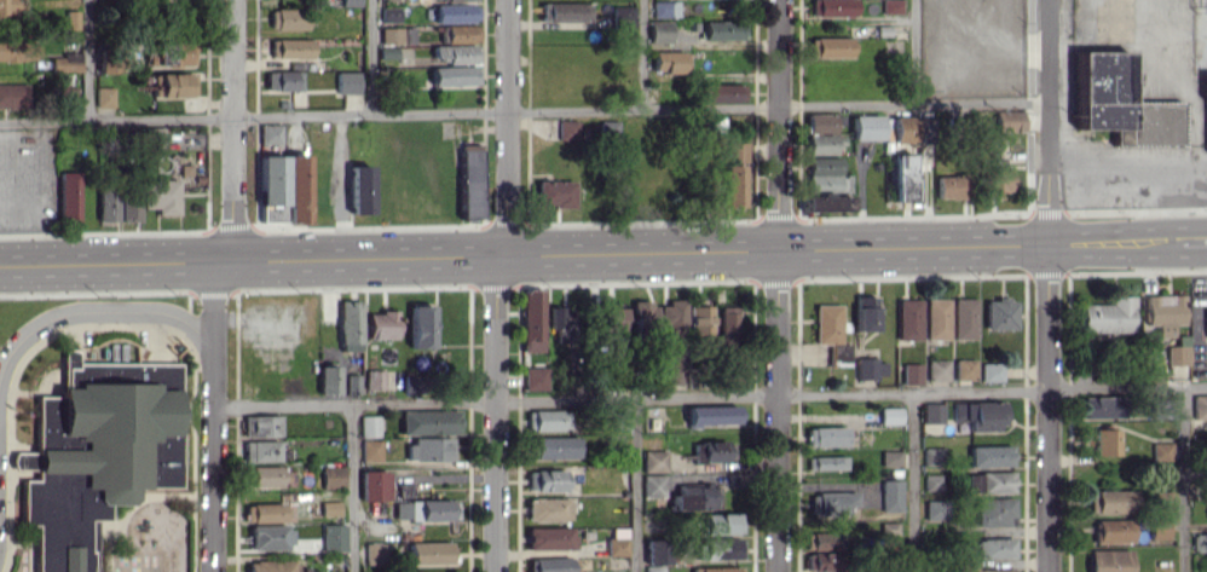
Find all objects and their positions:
building: (162, 0)
building: (392, 0)
building: (461, 0)
building: (353, 2)
power substation: (1202, 5)
building: (12, 6)
building: (894, 6)
building: (834, 7)
building: (668, 8)
building: (566, 11)
building: (458, 12)
building: (392, 15)
building: (625, 16)
building: (290, 18)
building: (74, 19)
building: (724, 30)
building: (662, 31)
building: (461, 33)
building: (399, 35)
building: (832, 46)
building: (293, 47)
building: (19, 50)
building: (177, 52)
road: (922, 52)
building: (458, 53)
road: (645, 54)
road: (371, 58)
road: (88, 60)
building: (70, 62)
building: (116, 62)
building: (672, 62)
building: (456, 75)
building: (285, 80)
building: (351, 82)
building: (175, 83)
building: (724, 93)
building: (13, 94)
building: (69, 96)
building: (106, 98)
building: (1126, 104)
road: (1033, 106)
road: (237, 111)
road: (510, 111)
road: (526, 111)
building: (1011, 121)
building: (822, 122)
building: (870, 127)
building: (571, 128)
building: (272, 133)
building: (824, 144)
building: (740, 151)
building: (826, 171)
building: (1001, 175)
building: (905, 177)
building: (472, 180)
building: (735, 185)
building: (953, 186)
building: (275, 187)
building: (299, 189)
building: (362, 189)
building: (558, 192)
building: (70, 196)
building: (163, 196)
building: (109, 203)
building: (828, 203)
building: (132, 207)
road: (1138, 210)
road: (1051, 212)
road: (231, 242)
road: (1197, 243)
road: (706, 253)
road: (504, 255)
road: (112, 262)
road: (221, 281)
road: (781, 285)
road: (1052, 285)
road: (91, 307)
building: (1167, 312)
building: (867, 313)
building: (1003, 313)
building: (1111, 314)
building: (564, 316)
building: (645, 316)
building: (940, 318)
building: (966, 318)
building: (533, 319)
building: (674, 319)
building: (701, 319)
building: (911, 319)
building: (613, 320)
building: (383, 324)
building: (352, 325)
building: (422, 325)
building: (833, 333)
building: (734, 336)
building: (1183, 351)
building: (873, 368)
building: (941, 369)
building: (968, 369)
building: (677, 370)
building: (994, 371)
building: (914, 372)
building: (537, 377)
building: (331, 379)
building: (377, 380)
building: (415, 382)
building: (356, 383)
road: (711, 397)
building: (1104, 406)
building: (1168, 408)
building: (1201, 411)
building: (936, 412)
building: (983, 414)
building: (714, 415)
building: (894, 415)
building: (550, 420)
building: (432, 421)
building: (623, 422)
building: (264, 424)
building: (373, 426)
road: (498, 431)
road: (216, 435)
building: (828, 435)
building: (1109, 441)
building: (558, 446)
building: (99, 447)
building: (432, 447)
building: (264, 450)
building: (374, 450)
building: (715, 451)
building: (1165, 451)
building: (936, 456)
building: (993, 456)
building: (894, 457)
building: (657, 461)
building: (830, 462)
building: (267, 476)
building: (335, 476)
road: (1185, 479)
building: (548, 480)
building: (936, 481)
building: (992, 481)
road: (914, 483)
building: (376, 485)
road: (637, 485)
building: (657, 485)
road: (353, 487)
building: (894, 495)
building: (694, 498)
building: (1163, 498)
building: (1114, 501)
building: (834, 503)
building: (333, 508)
building: (425, 509)
building: (550, 509)
building: (937, 509)
building: (266, 512)
building: (998, 512)
building: (724, 522)
building: (891, 527)
building: (1162, 528)
building: (1115, 530)
building: (271, 537)
building: (336, 537)
building: (553, 537)
building: (827, 541)
building: (620, 542)
building: (1201, 542)
building: (721, 548)
building: (998, 548)
building: (377, 553)
building: (432, 553)
building: (1113, 560)
building: (824, 561)
building: (551, 565)
building: (278, 566)
building: (969, 566)
building: (722, 568)

